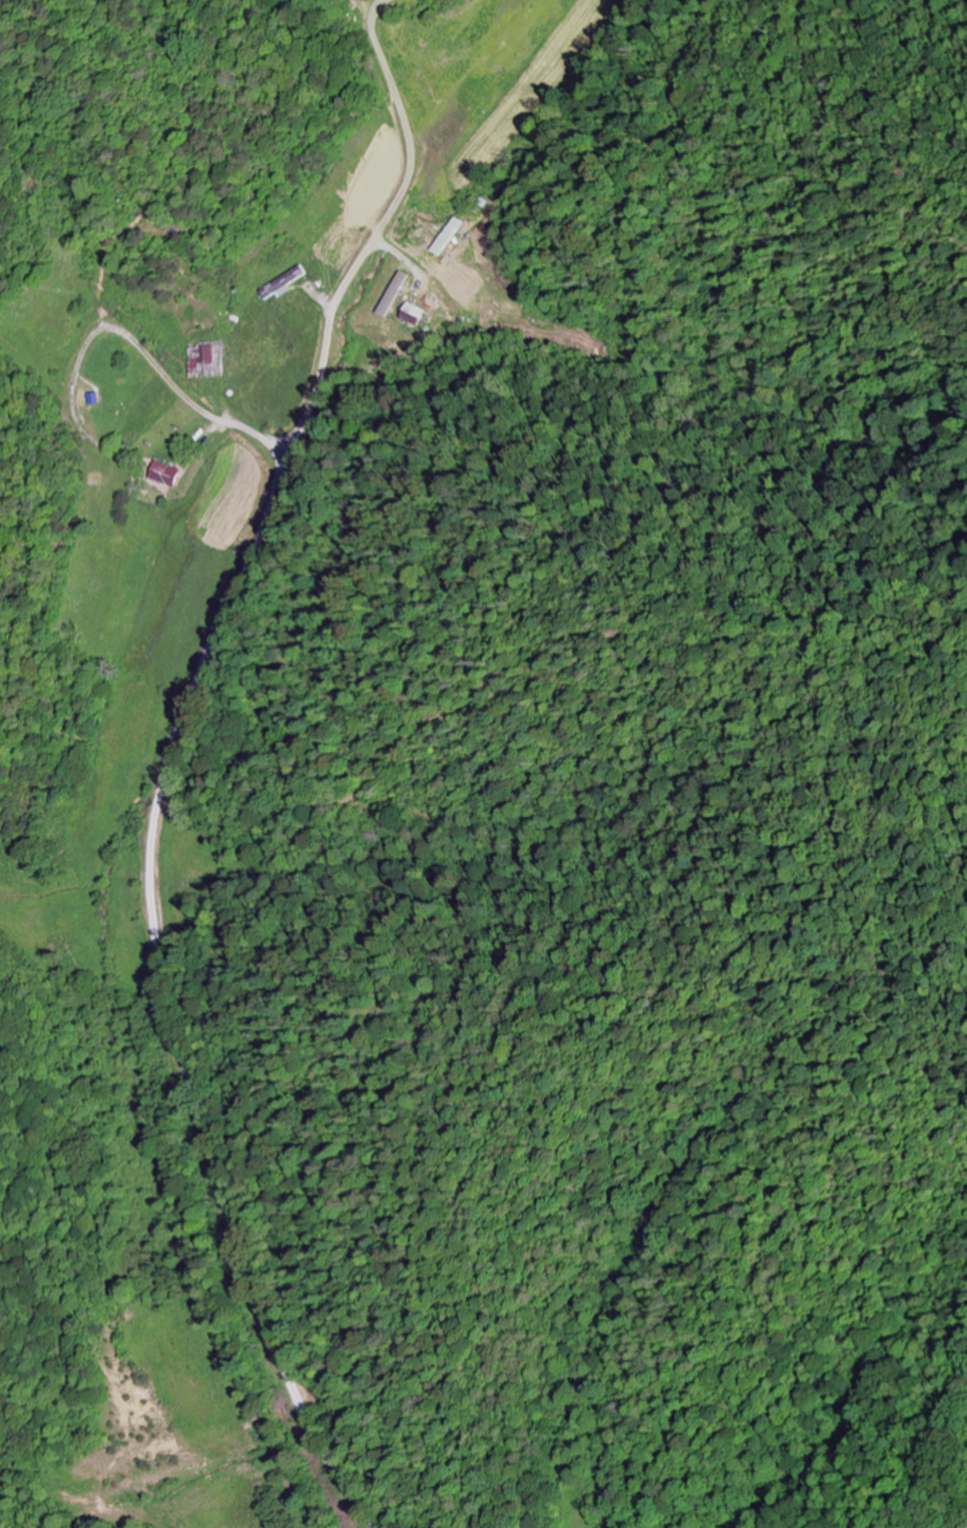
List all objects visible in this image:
building: (284, 284)
building: (397, 294)
building: (412, 316)
building: (210, 356)
building: (171, 474)
road: (163, 995)

